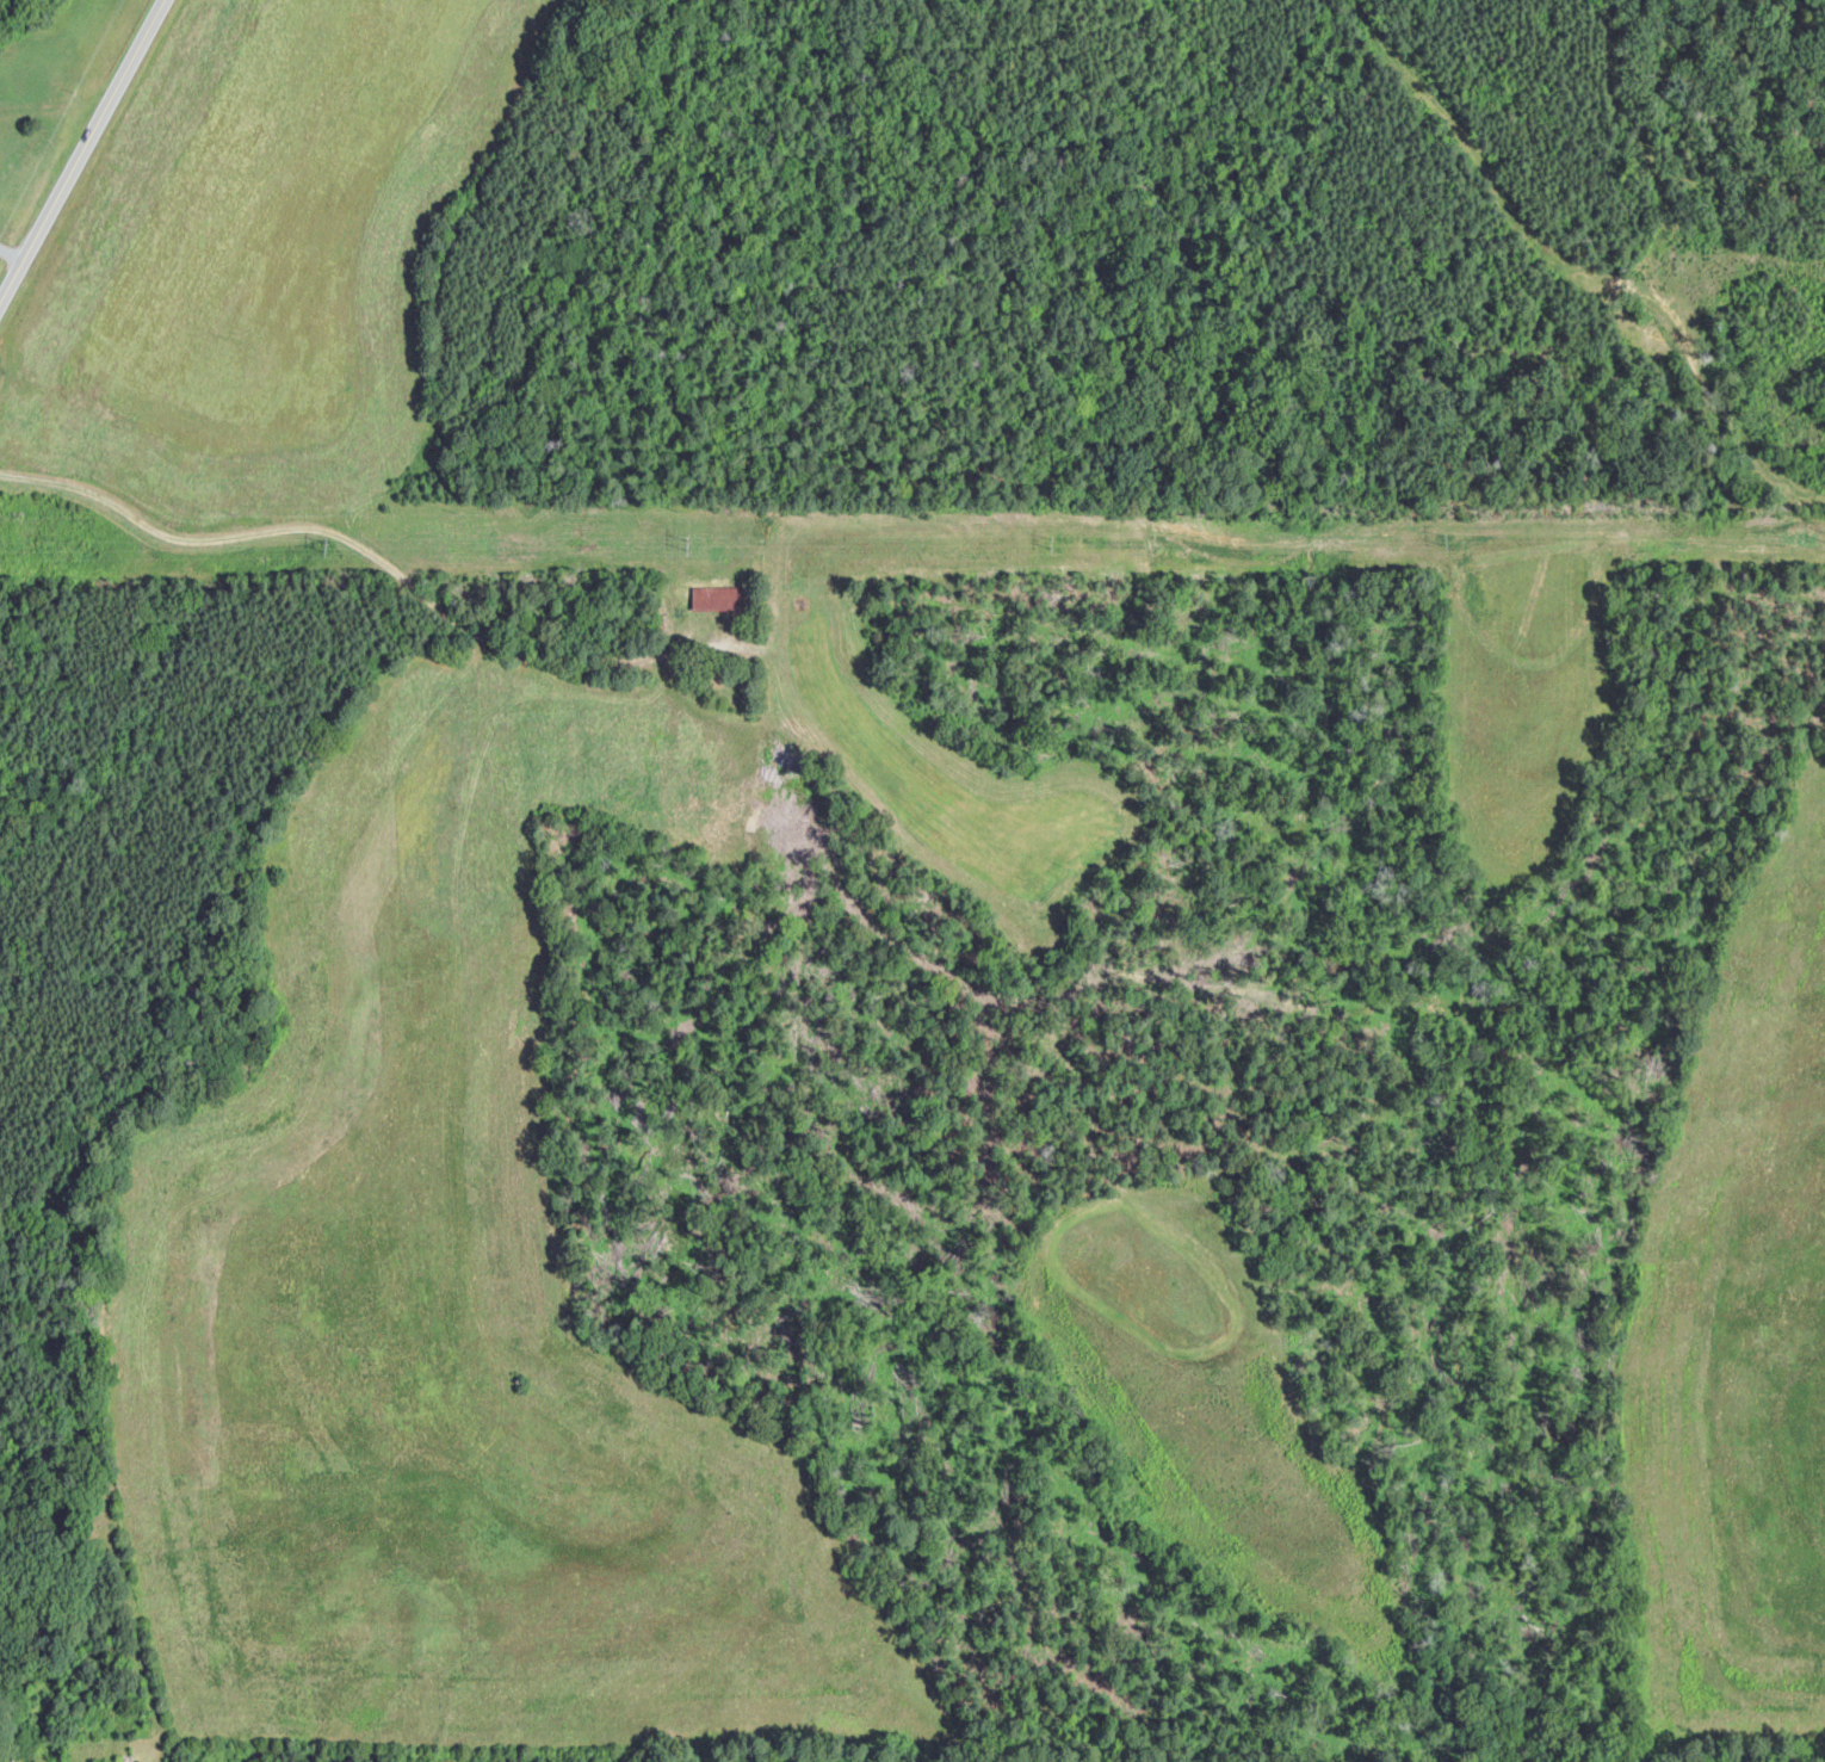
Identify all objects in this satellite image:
road: (82, 150)
building: (716, 598)
road: (10, 1756)
building: (64, 1758)

